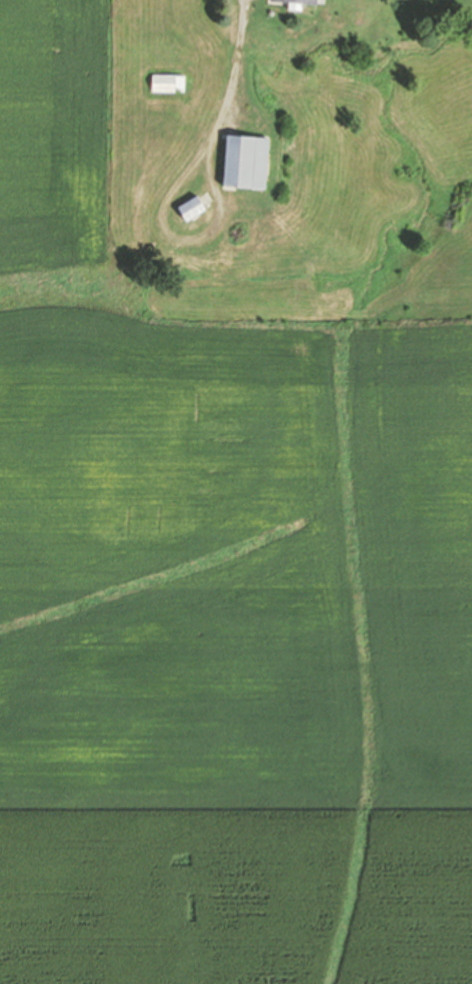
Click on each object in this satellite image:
building: (300, 3)
road: (233, 73)
building: (169, 82)
building: (249, 160)
building: (194, 207)
road: (181, 240)
road: (296, 312)

